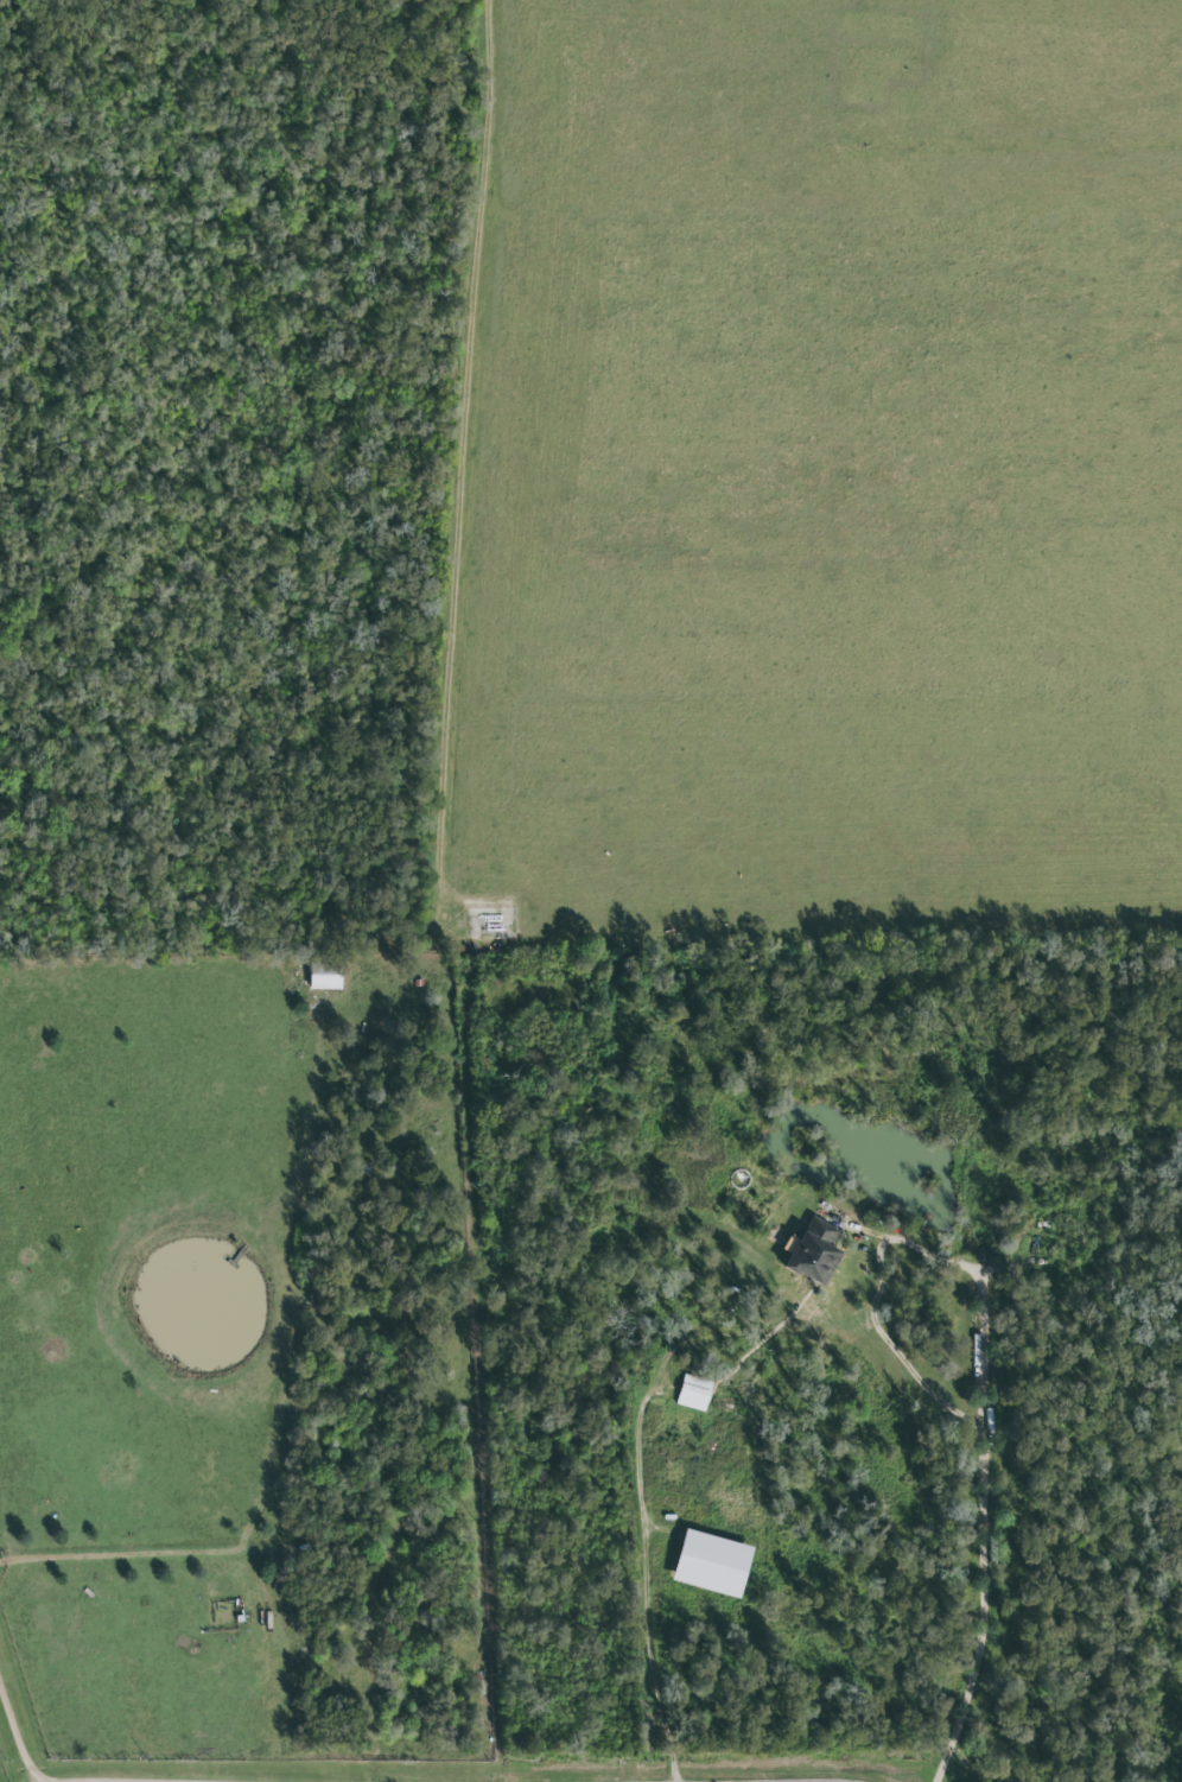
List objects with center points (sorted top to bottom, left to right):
building: (326, 977)
building: (812, 1253)
road: (873, 1308)
building: (695, 1394)
road: (986, 1529)
building: (714, 1565)
road: (647, 1577)
road: (21, 1716)

